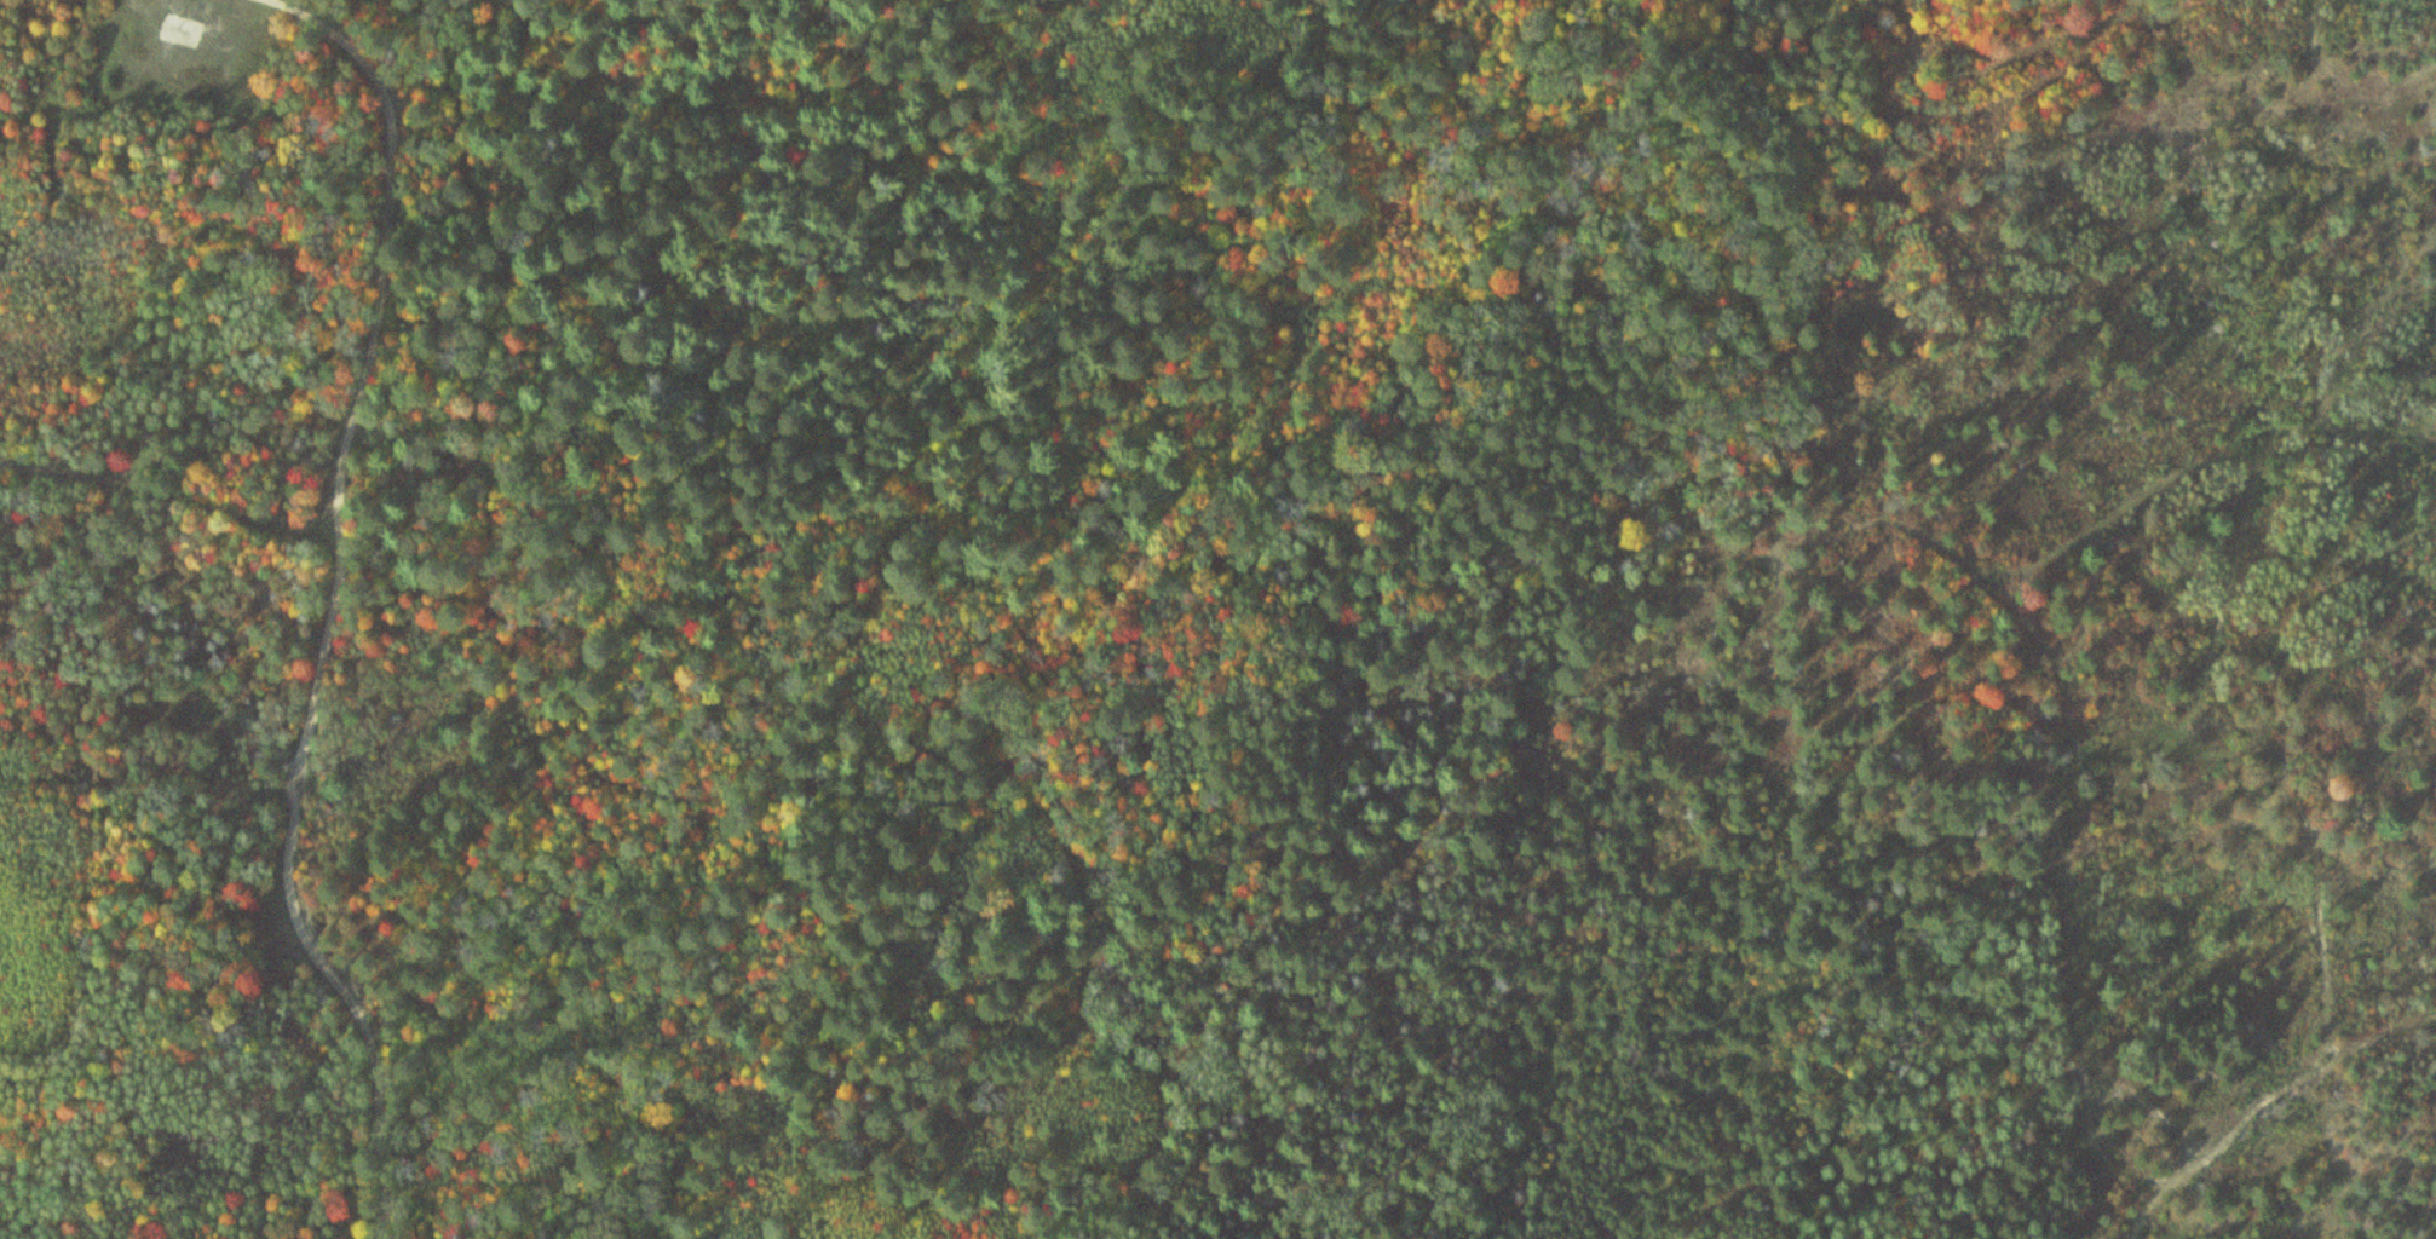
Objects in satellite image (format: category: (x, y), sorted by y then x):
petroleum well: (180, 29)
road: (171, 494)
road: (332, 597)

